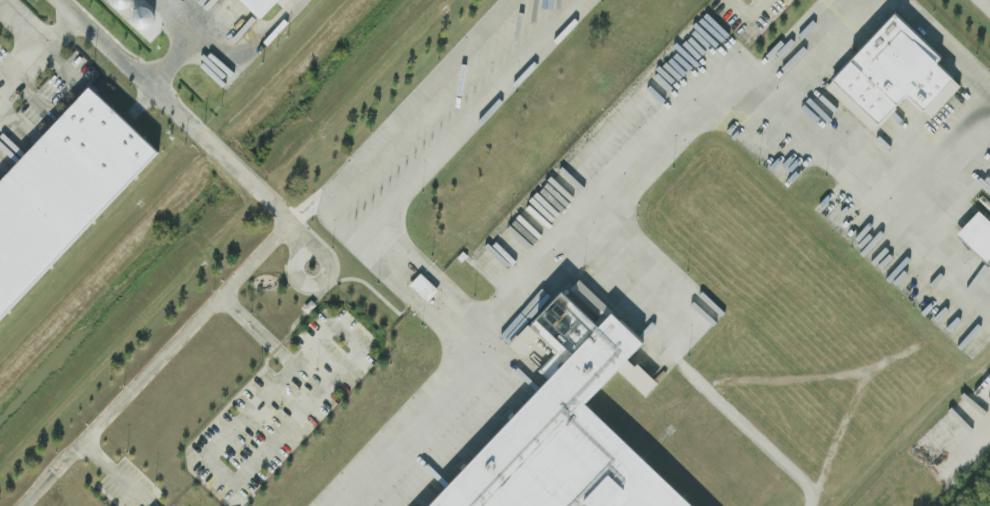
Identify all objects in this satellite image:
road: (987, 2)
building: (260, 5)
road: (745, 11)
road: (21, 28)
road: (227, 48)
road: (829, 49)
road: (37, 53)
road: (963, 55)
road: (170, 58)
road: (124, 63)
road: (61, 66)
building: (892, 74)
road: (33, 96)
road: (415, 99)
road: (205, 138)
road: (670, 142)
road: (938, 142)
road: (244, 176)
building: (62, 187)
road: (326, 203)
road: (292, 231)
building: (977, 234)
road: (938, 250)
road: (380, 253)
building: (423, 285)
road: (248, 325)
road: (308, 351)
road: (281, 361)
road: (159, 367)
road: (250, 411)
building: (566, 422)
road: (295, 425)
road: (110, 470)

